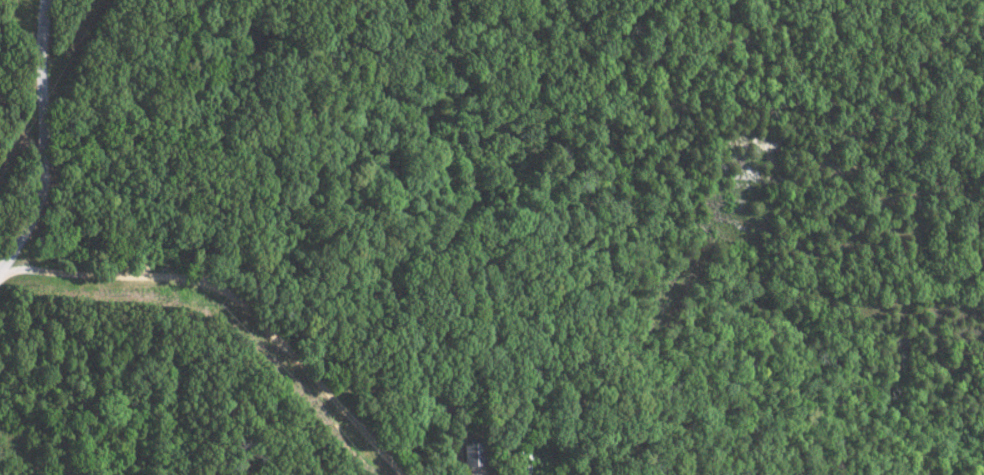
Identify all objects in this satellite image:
road: (43, 141)
road: (240, 302)

